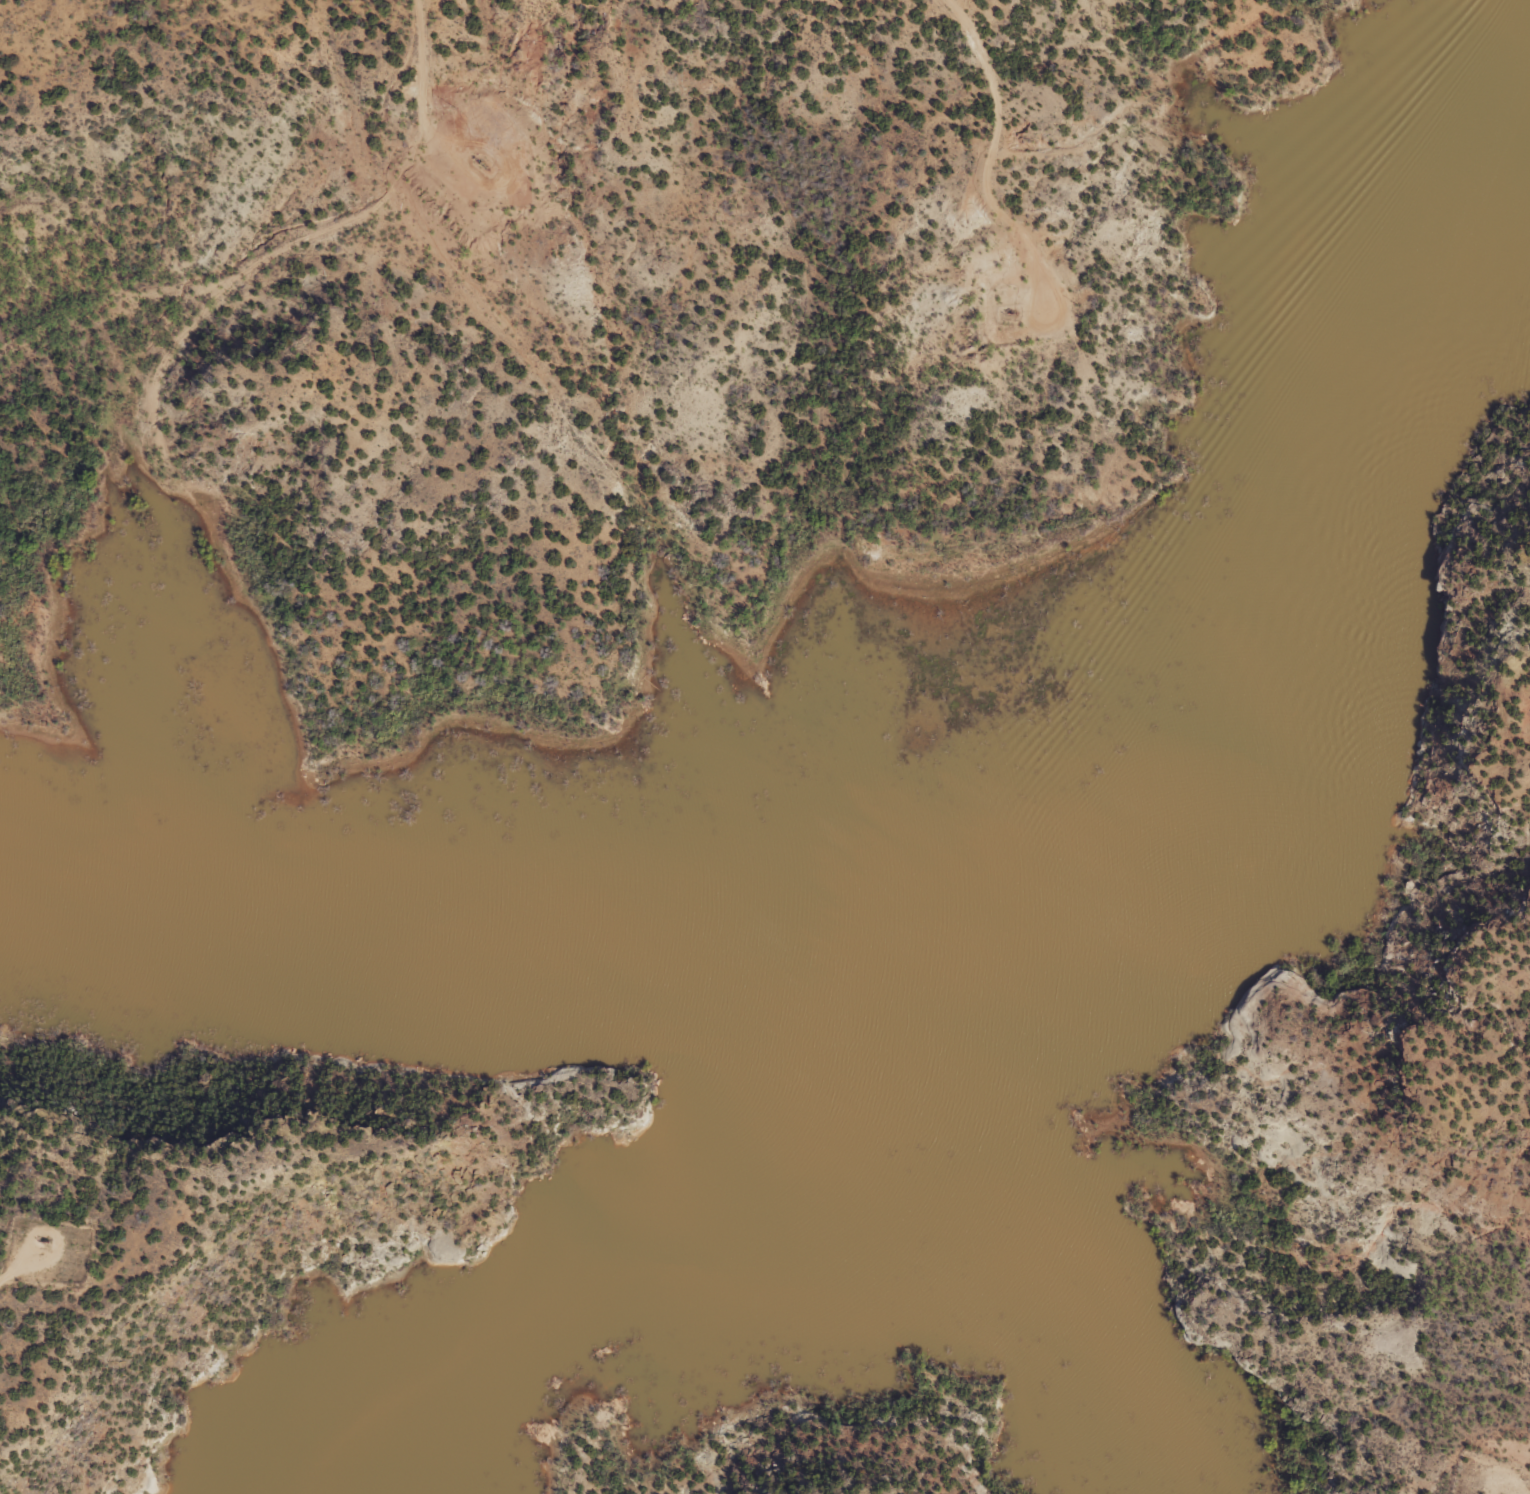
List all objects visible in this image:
road: (865, 17)
river: (982, 814)

